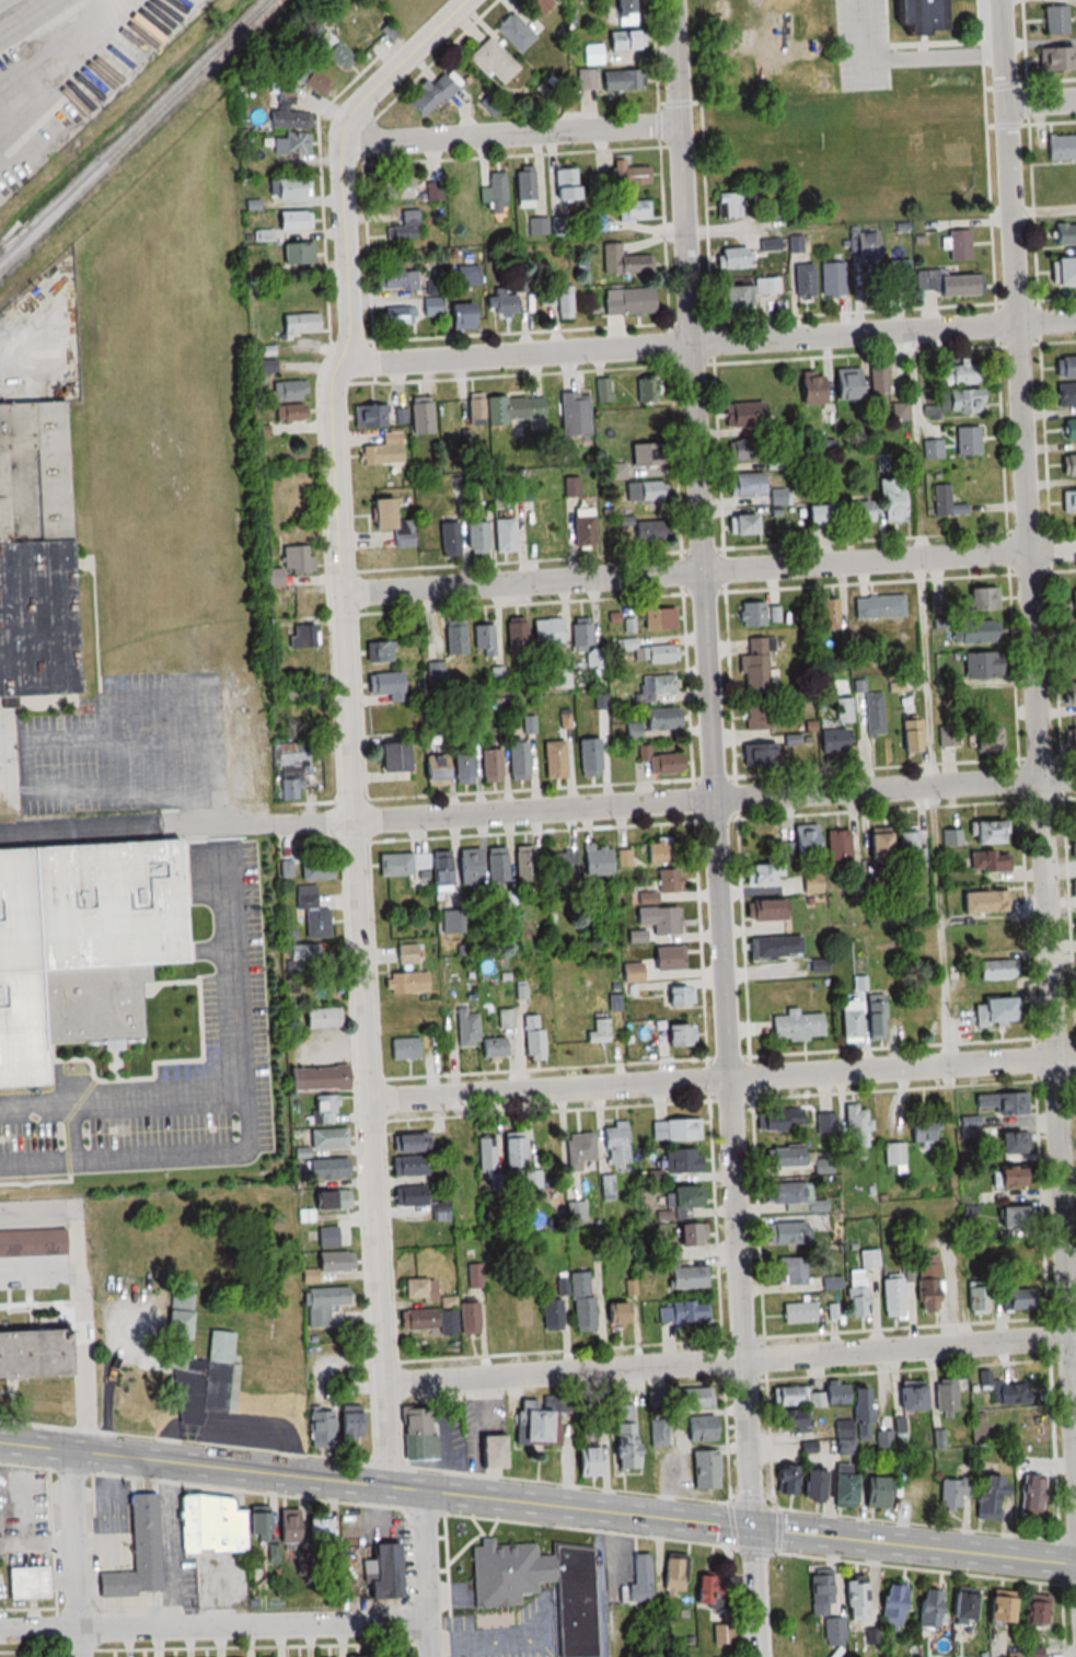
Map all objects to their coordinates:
building: (540, 4)
building: (623, 11)
building: (912, 15)
building: (1075, 16)
building: (1054, 19)
building: (513, 32)
building: (622, 39)
building: (325, 44)
building: (591, 54)
building: (1056, 58)
road: (902, 61)
building: (490, 62)
building: (312, 79)
building: (609, 79)
building: (428, 94)
road: (1041, 100)
building: (288, 119)
road: (508, 131)
railway: (141, 137)
building: (293, 143)
building: (1061, 148)
building: (627, 174)
building: (565, 185)
building: (523, 186)
building: (288, 188)
building: (392, 189)
building: (495, 193)
building: (728, 204)
building: (632, 210)
building: (291, 220)
building: (593, 222)
building: (404, 228)
building: (1063, 234)
building: (770, 244)
building: (868, 245)
building: (957, 245)
building: (296, 253)
building: (732, 257)
building: (623, 260)
building: (1063, 273)
building: (465, 276)
building: (896, 276)
building: (831, 279)
building: (396, 280)
building: (801, 281)
building: (948, 283)
building: (433, 286)
building: (744, 292)
building: (546, 296)
building: (626, 301)
building: (504, 302)
building: (563, 302)
building: (432, 305)
building: (397, 315)
building: (460, 316)
building: (298, 323)
road: (708, 341)
building: (264, 367)
building: (1065, 368)
building: (953, 375)
road: (913, 378)
building: (878, 382)
building: (847, 385)
building: (649, 389)
building: (288, 390)
building: (808, 391)
building: (1065, 394)
building: (951, 403)
building: (506, 409)
building: (899, 412)
building: (289, 413)
building: (574, 413)
building: (419, 415)
building: (743, 415)
building: (369, 416)
building: (1068, 429)
building: (967, 441)
building: (383, 450)
building: (742, 451)
building: (646, 455)
building: (773, 464)
building: (1068, 465)
building: (616, 471)
building: (744, 486)
building: (522, 490)
building: (641, 491)
building: (891, 500)
building: (778, 501)
building: (1068, 502)
building: (947, 505)
building: (861, 512)
building: (819, 514)
building: (392, 522)
building: (740, 525)
building: (580, 529)
building: (644, 531)
building: (502, 535)
building: (475, 536)
building: (448, 538)
building: (33, 553)
building: (286, 566)
road: (708, 572)
building: (977, 601)
building: (1073, 605)
building: (879, 607)
building: (759, 615)
building: (825, 615)
building: (656, 621)
building: (546, 633)
building: (972, 634)
building: (300, 636)
building: (516, 636)
building: (452, 638)
building: (483, 639)
building: (585, 642)
building: (379, 652)
building: (648, 653)
building: (755, 664)
building: (980, 667)
building: (559, 680)
building: (384, 686)
building: (657, 686)
building: (1068, 693)
building: (981, 698)
road: (1037, 705)
building: (843, 711)
road: (349, 714)
building: (873, 714)
building: (757, 717)
building: (652, 722)
building: (529, 726)
building: (1071, 734)
building: (910, 737)
building: (947, 737)
building: (985, 740)
building: (831, 742)
building: (759, 755)
building: (588, 757)
building: (552, 760)
building: (516, 761)
building: (658, 762)
building: (489, 766)
building: (459, 768)
building: (289, 769)
building: (431, 770)
road: (681, 800)
road: (937, 810)
building: (1074, 818)
road: (718, 827)
building: (985, 831)
building: (951, 835)
building: (802, 839)
building: (876, 845)
building: (836, 847)
building: (912, 847)
building: (1074, 849)
building: (659, 851)
building: (595, 859)
building: (987, 859)
building: (562, 861)
building: (523, 862)
building: (394, 864)
building: (496, 864)
building: (467, 866)
building: (314, 868)
building: (432, 868)
building: (762, 872)
building: (667, 879)
building: (1074, 890)
building: (645, 896)
building: (984, 900)
building: (765, 909)
building: (453, 918)
building: (657, 918)
building: (1075, 927)
building: (996, 934)
building: (774, 947)
building: (85, 952)
building: (409, 952)
building: (304, 957)
building: (667, 957)
building: (995, 969)
building: (1075, 970)
building: (630, 971)
building: (406, 982)
building: (678, 995)
building: (916, 1007)
building: (992, 1010)
building: (319, 1017)
building: (505, 1017)
building: (875, 1017)
building: (849, 1019)
building: (465, 1024)
building: (795, 1024)
building: (598, 1030)
building: (675, 1033)
building: (532, 1035)
building: (403, 1047)
building: (315, 1077)
road: (722, 1077)
building: (999, 1103)
building: (323, 1109)
building: (780, 1117)
building: (825, 1122)
building: (855, 1125)
building: (674, 1128)
building: (922, 1129)
building: (326, 1138)
building: (408, 1142)
building: (1007, 1142)
building: (615, 1145)
building: (580, 1150)
building: (510, 1152)
building: (486, 1154)
building: (893, 1155)
building: (784, 1156)
building: (680, 1159)
building: (406, 1166)
building: (324, 1168)
building: (1006, 1175)
building: (532, 1179)
building: (784, 1192)
building: (409, 1195)
building: (682, 1196)
building: (328, 1198)
building: (575, 1210)
building: (681, 1213)
building: (1008, 1216)
building: (786, 1231)
building: (327, 1237)
building: (682, 1239)
building: (33, 1243)
building: (868, 1256)
building: (1014, 1256)
building: (331, 1261)
building: (792, 1268)
building: (685, 1276)
building: (831, 1282)
building: (926, 1282)
building: (418, 1288)
building: (856, 1291)
building: (182, 1294)
building: (1016, 1295)
building: (891, 1296)
building: (976, 1296)
building: (581, 1301)
building: (323, 1303)
building: (683, 1310)
building: (797, 1311)
building: (518, 1312)
building: (613, 1312)
building: (551, 1313)
building: (494, 1314)
building: (467, 1317)
road: (82, 1318)
building: (417, 1319)
building: (34, 1337)
road: (729, 1358)
building: (197, 1368)
building: (1009, 1393)
building: (787, 1394)
building: (944, 1394)
building: (691, 1397)
building: (910, 1398)
building: (844, 1399)
building: (789, 1418)
building: (529, 1422)
building: (347, 1425)
building: (698, 1426)
building: (317, 1427)
building: (658, 1432)
building: (416, 1436)
building: (624, 1437)
building: (843, 1437)
building: (488, 1450)
building: (585, 1460)
building: (703, 1469)
building: (785, 1480)
building: (809, 1484)
building: (840, 1484)
building: (875, 1493)
building: (951, 1493)
building: (1030, 1496)
building: (987, 1498)
road: (537, 1502)
building: (215, 1525)
building: (285, 1526)
traffic signals: (753, 1527)
building: (312, 1530)
road: (74, 1552)
building: (136, 1552)
building: (302, 1562)
building: (379, 1569)
road: (427, 1573)
building: (671, 1576)
building: (639, 1577)
building: (24, 1583)
building: (706, 1590)
building: (819, 1595)
building: (570, 1596)
building: (854, 1599)
building: (891, 1606)
building: (928, 1608)
building: (960, 1608)
building: (995, 1610)
building: (1033, 1610)
road: (215, 1625)
building: (833, 1632)
building: (355, 1656)
building: (383, 1656)

